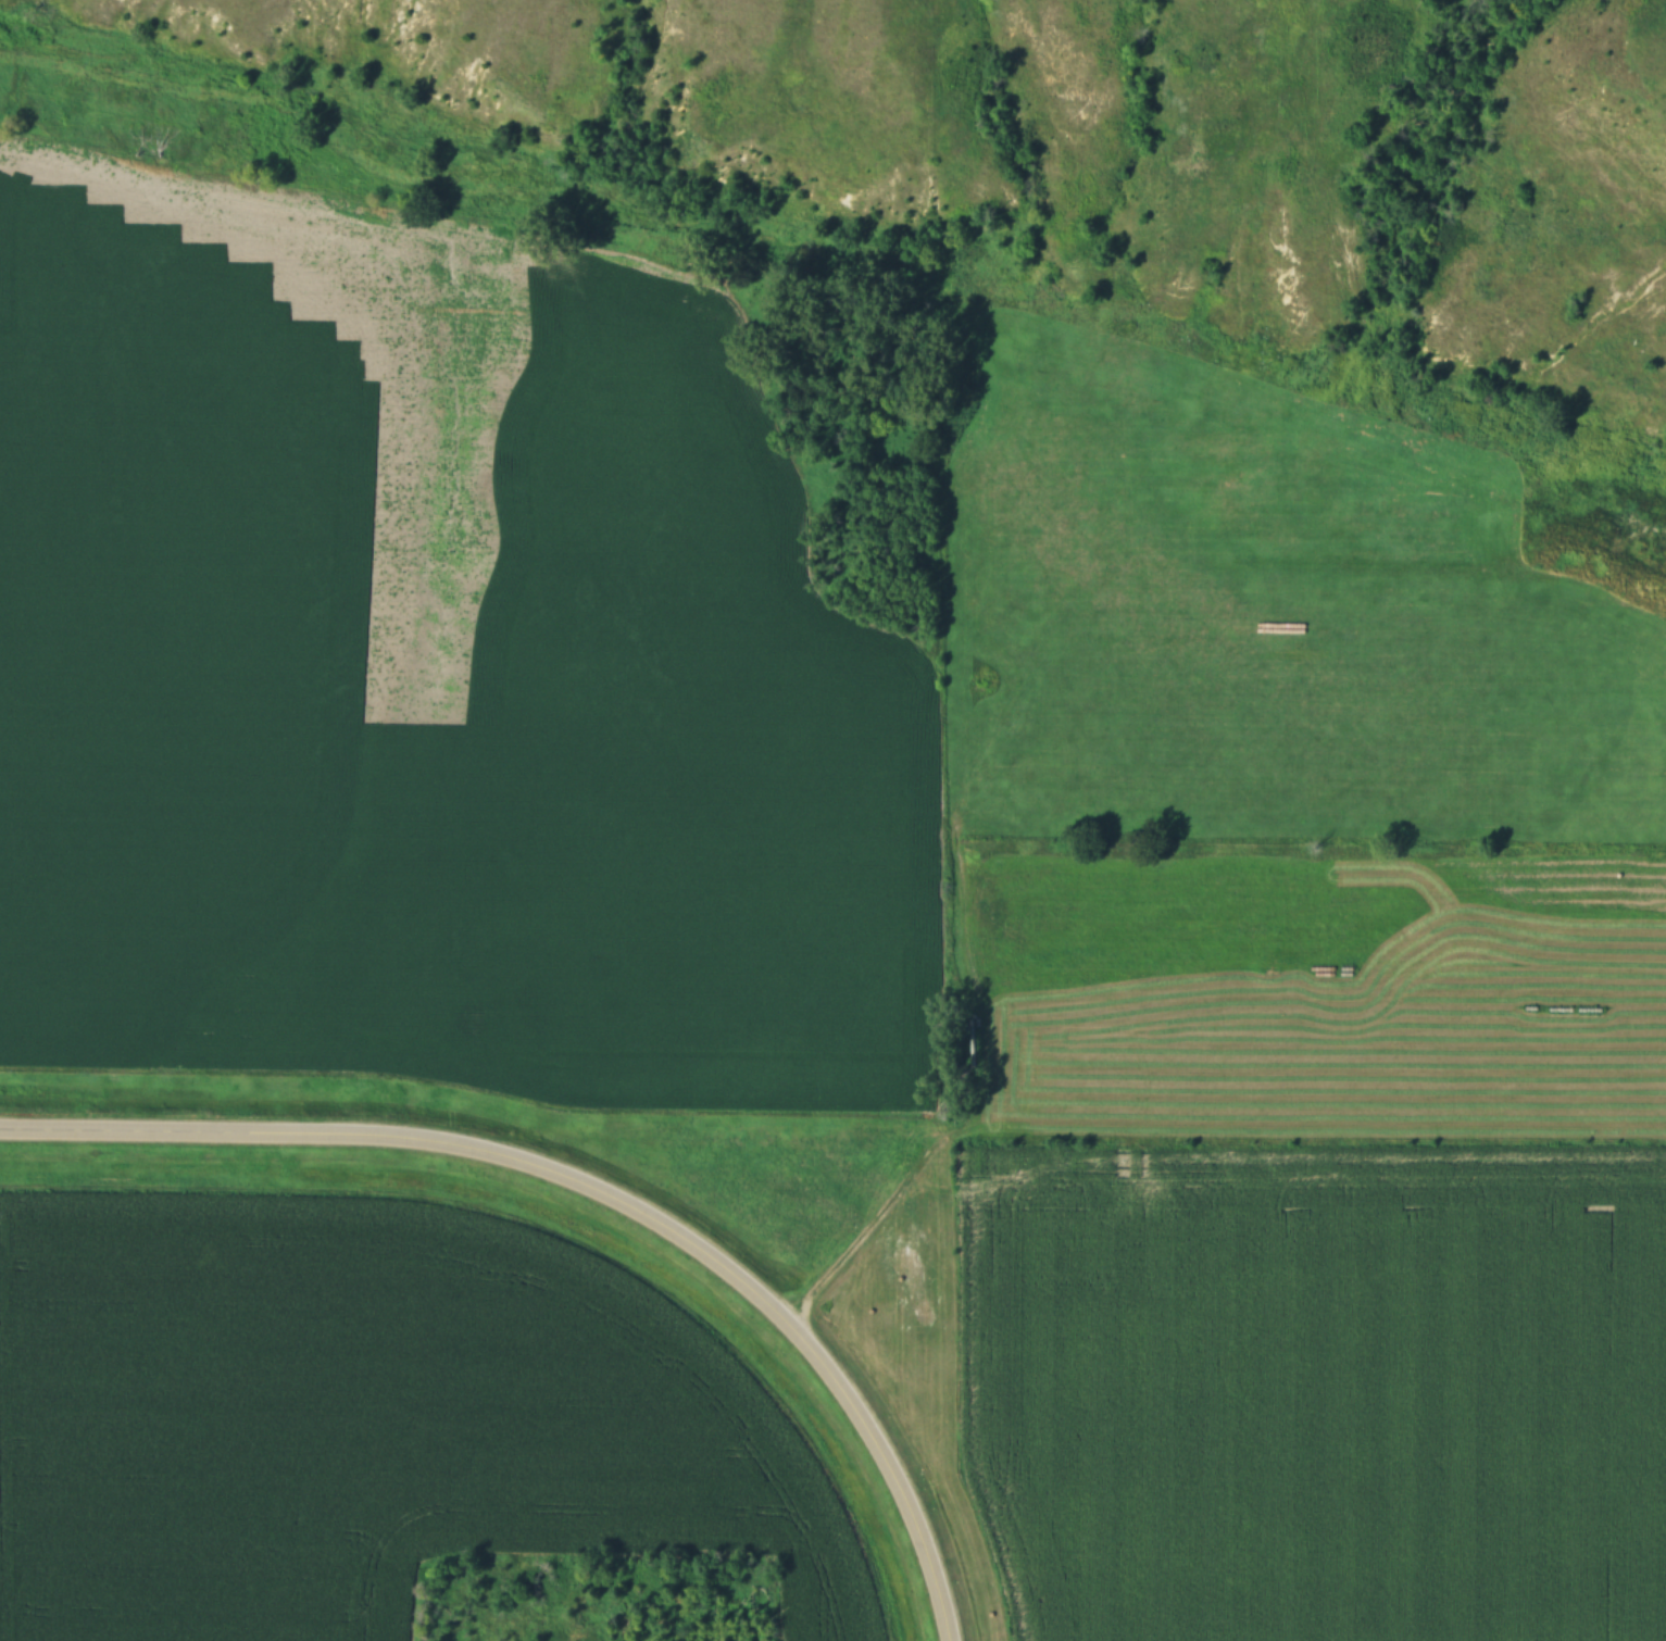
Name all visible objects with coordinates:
road: (594, 1188)

